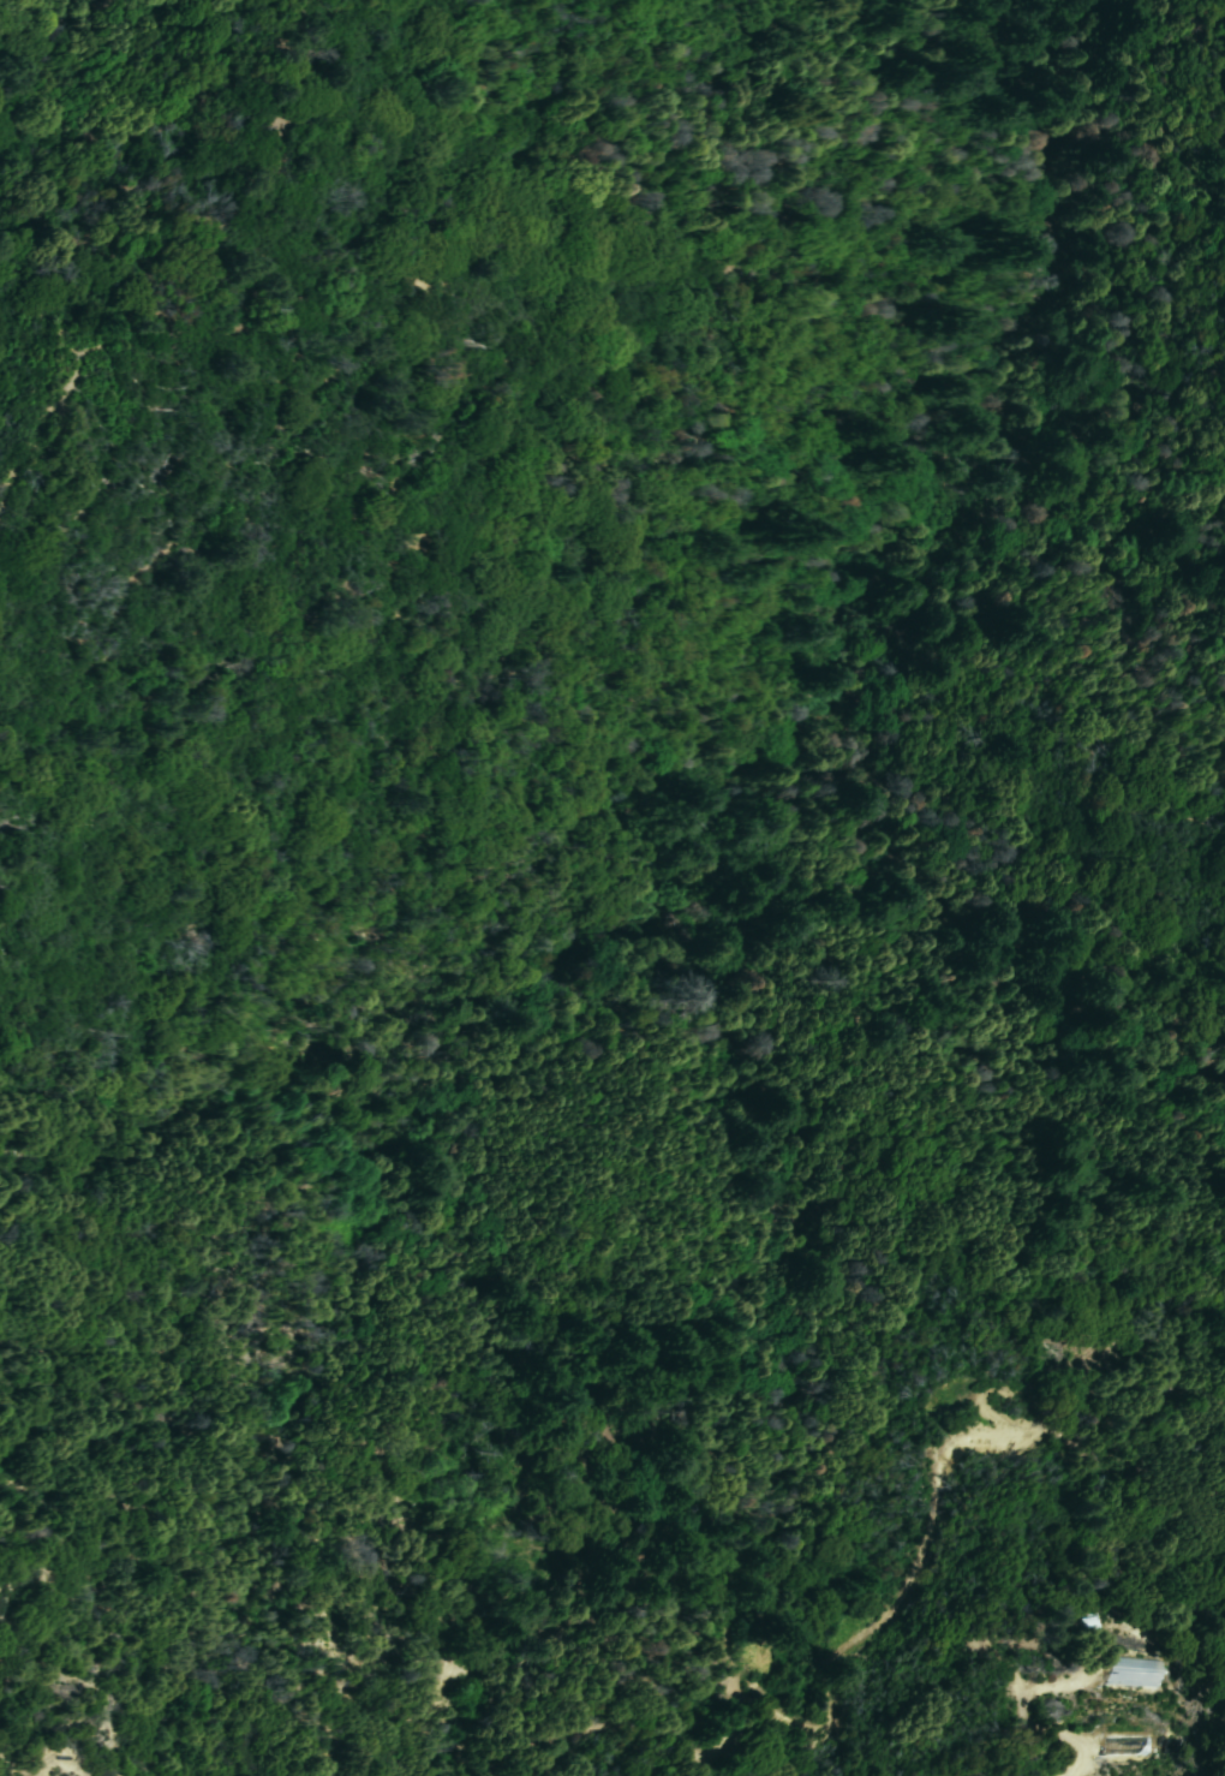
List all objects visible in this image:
road: (1077, 133)
road: (231, 328)
road: (1028, 1383)
road: (994, 1417)
road: (902, 1598)
road: (1024, 1716)
road: (47, 1774)

